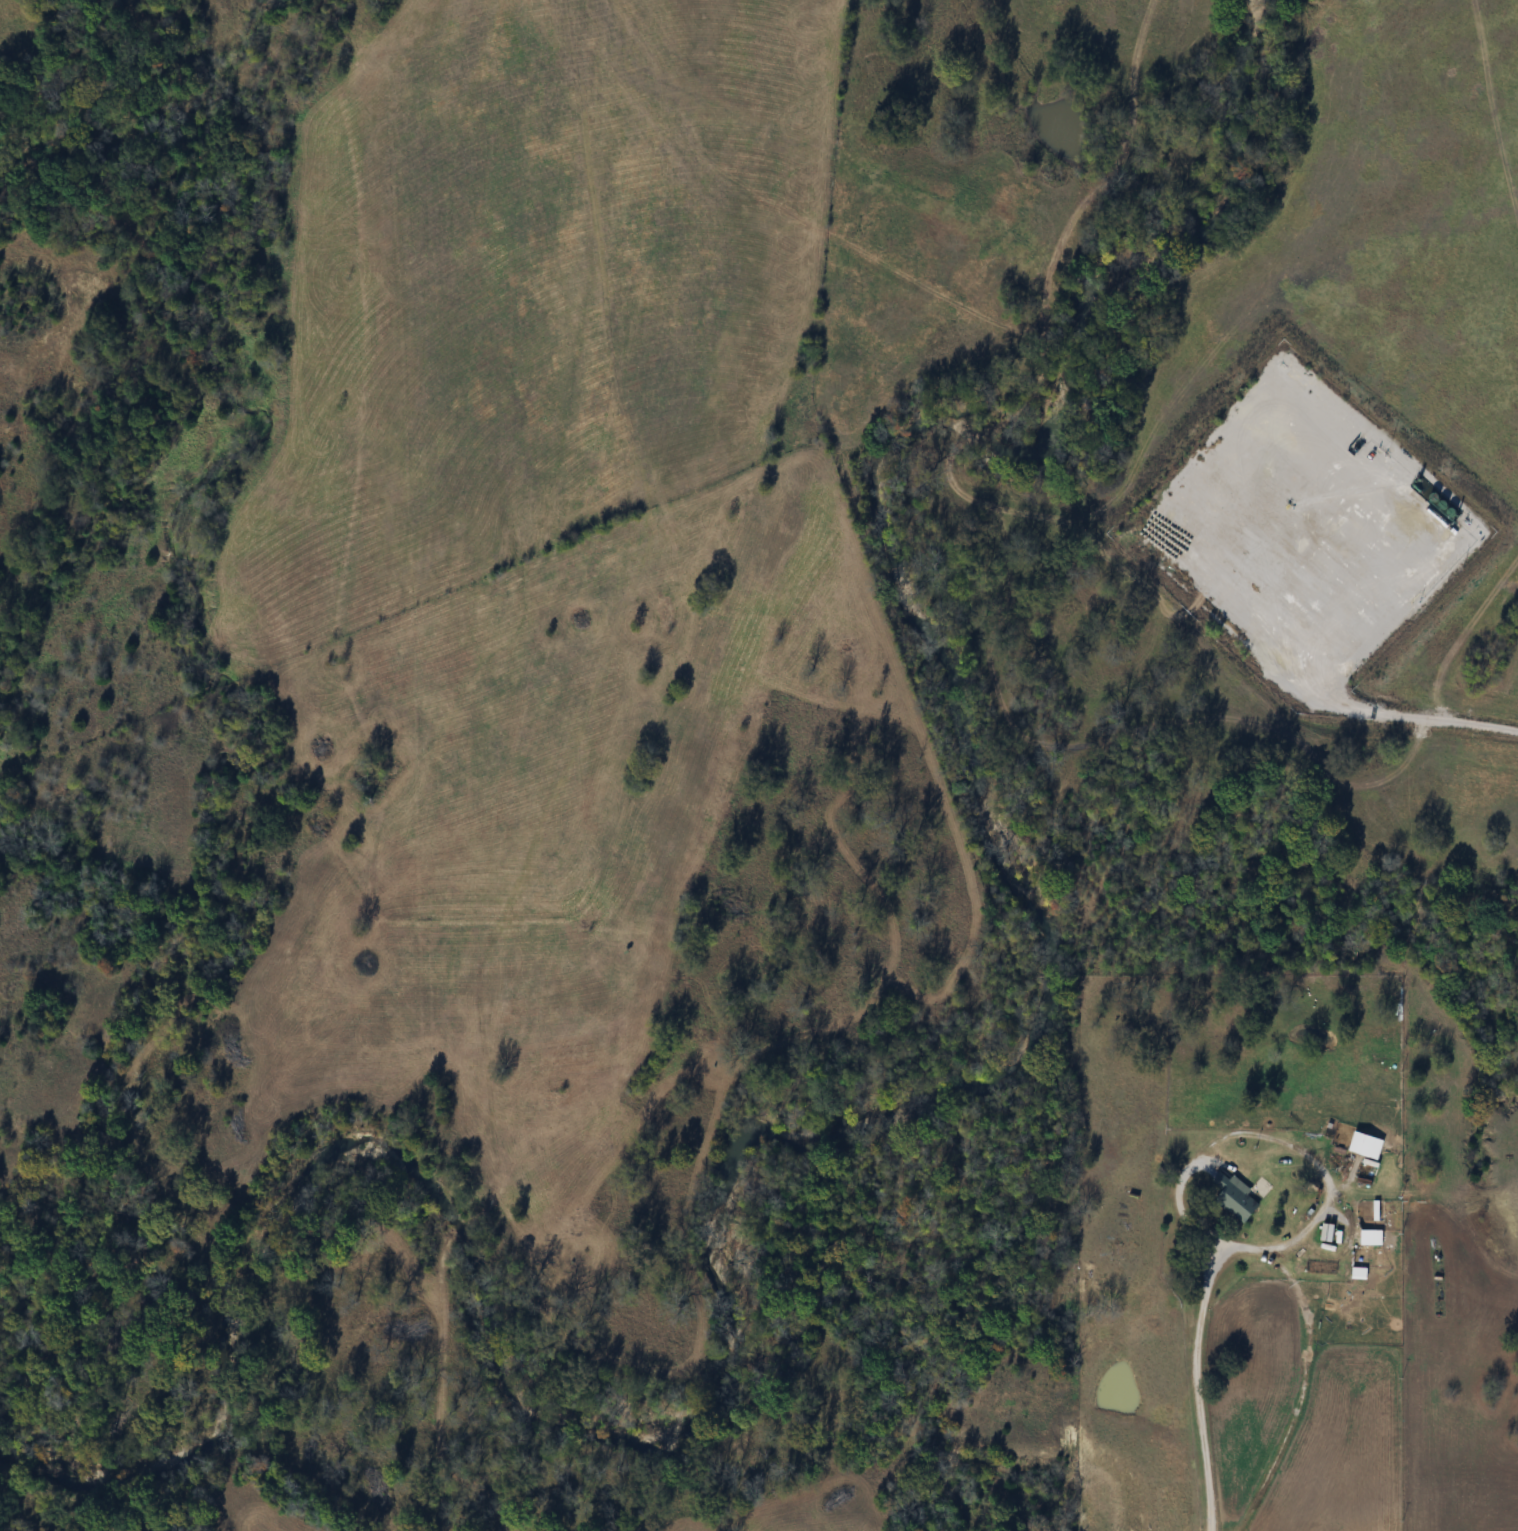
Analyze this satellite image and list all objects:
building: (1366, 1145)
building: (1234, 1197)
road: (1252, 1249)

